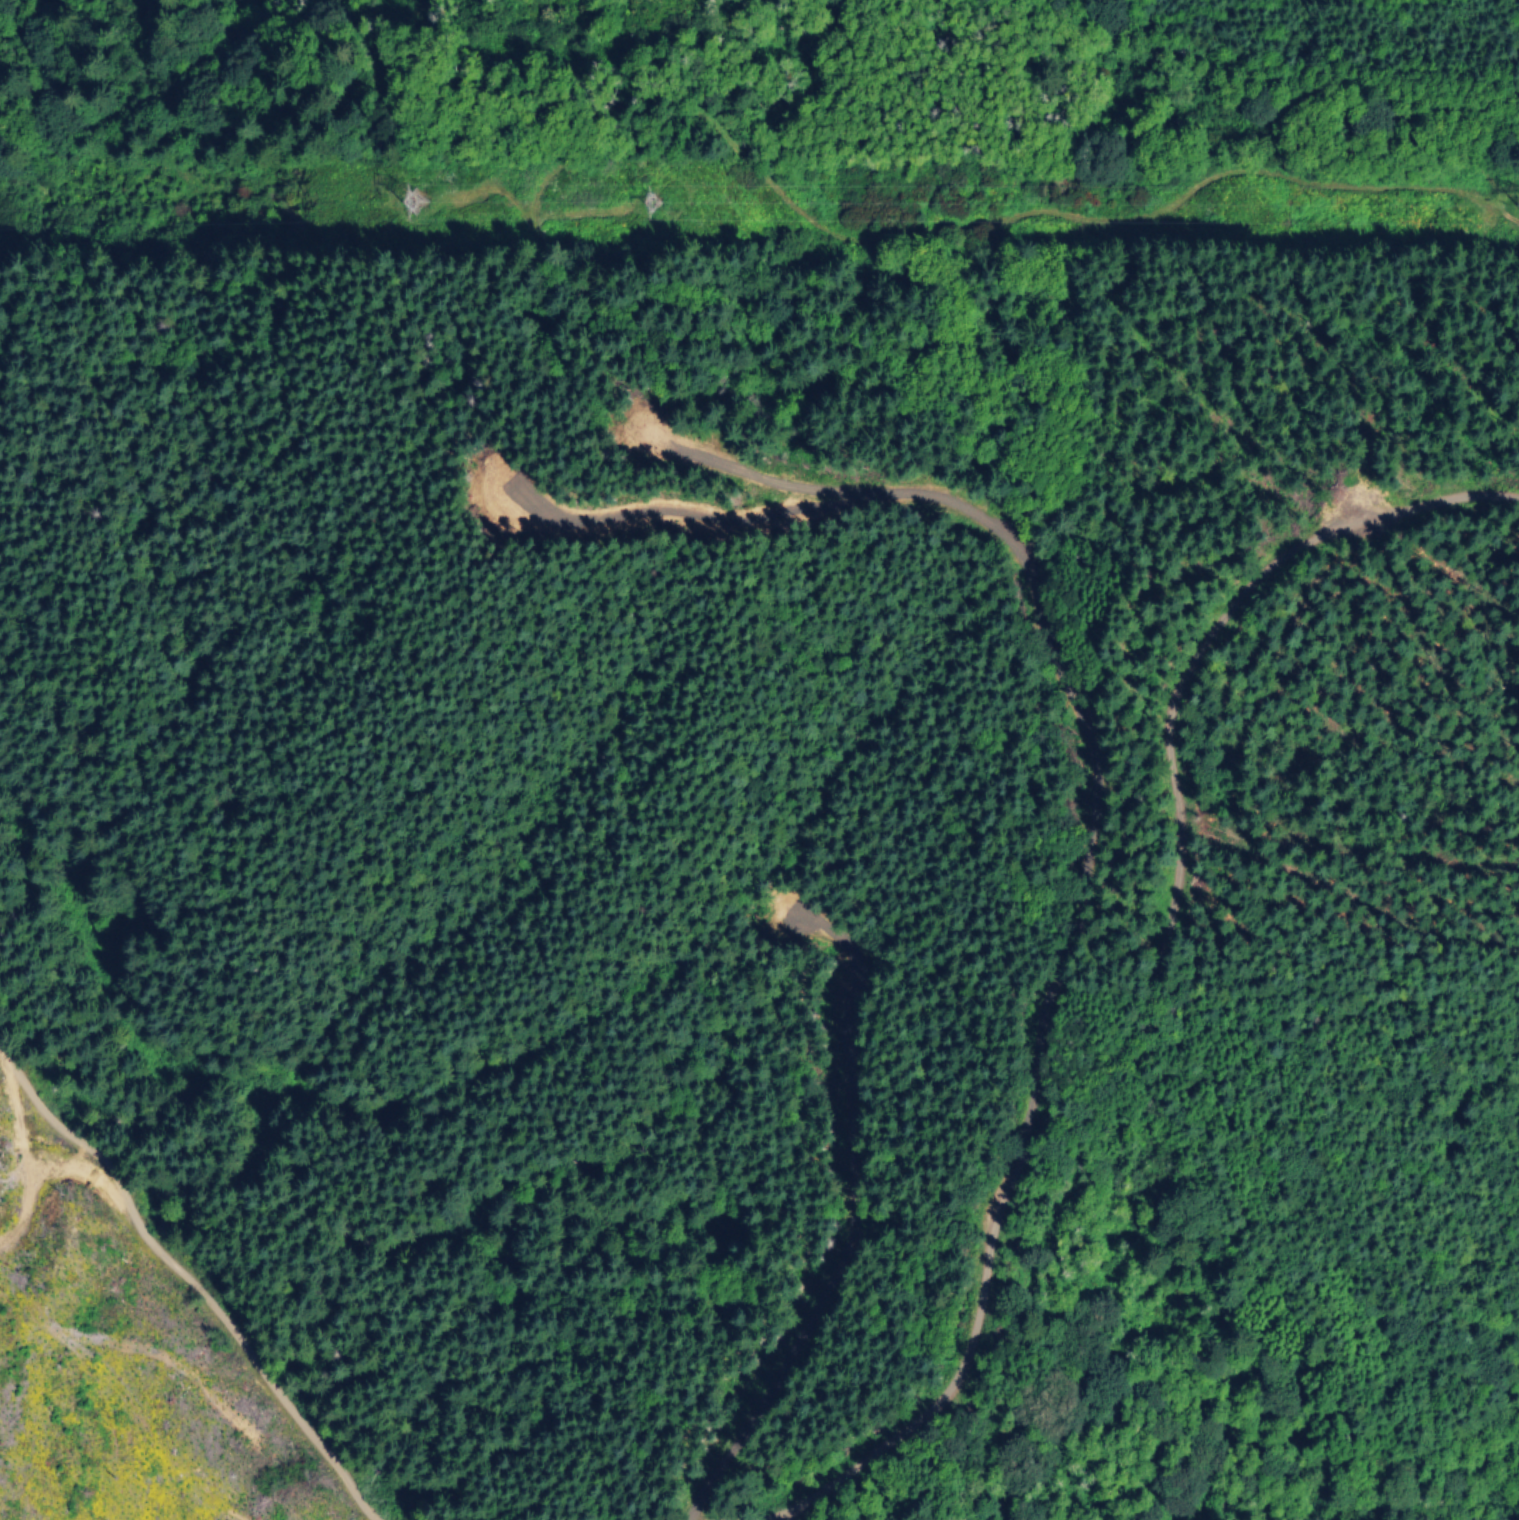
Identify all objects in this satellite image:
road: (1232, 174)
power tower: (650, 192)
power tower: (415, 201)
road: (963, 1133)
road: (146, 1294)
road: (728, 1496)

